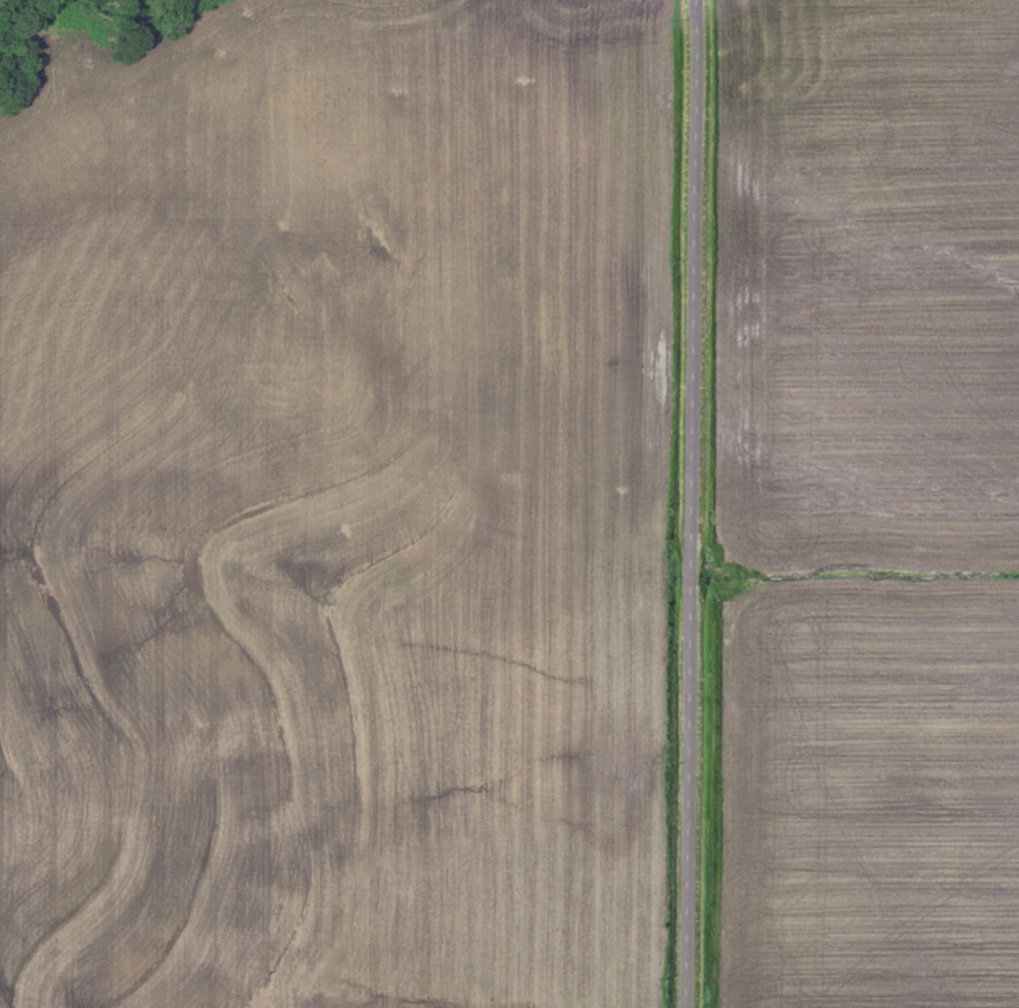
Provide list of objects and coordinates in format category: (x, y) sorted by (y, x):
road: (689, 503)

